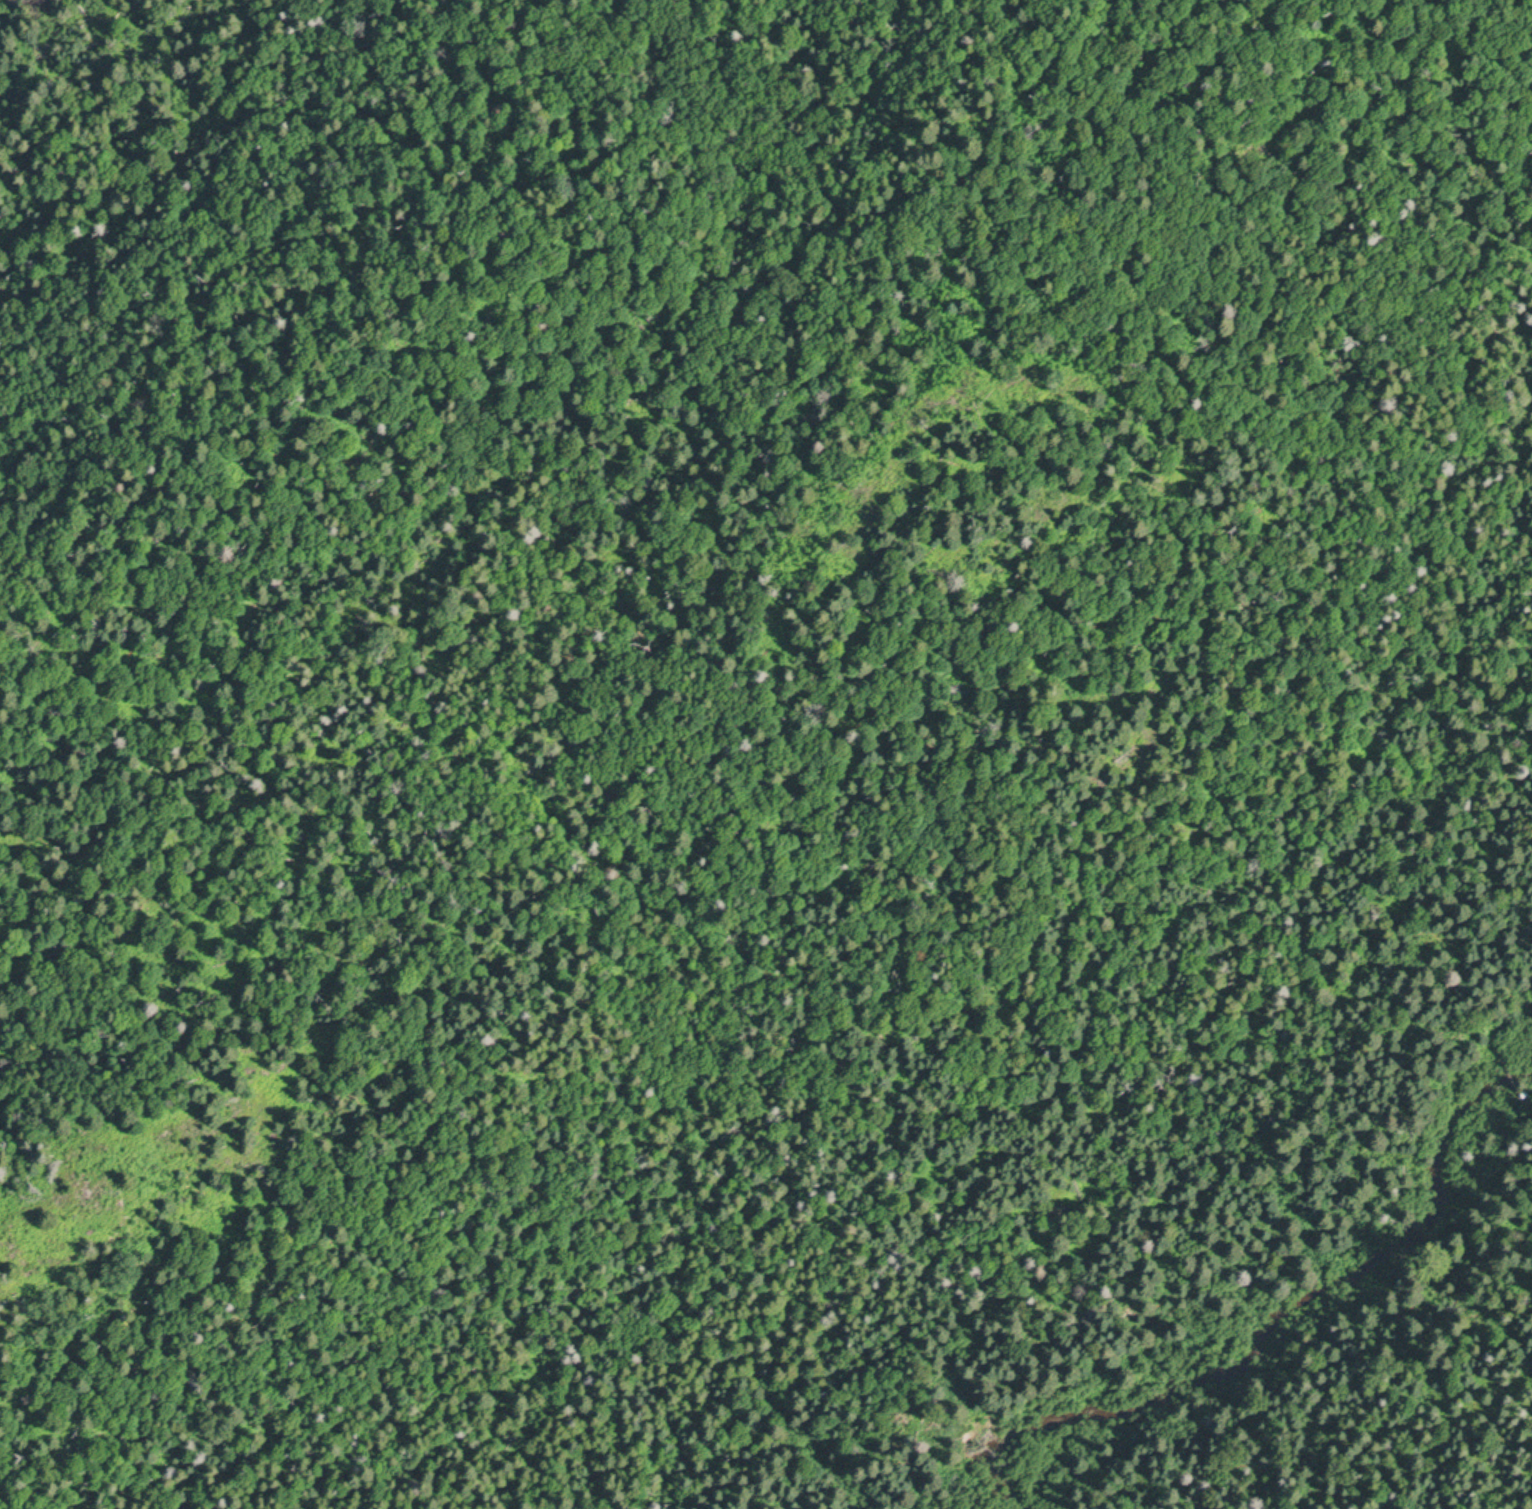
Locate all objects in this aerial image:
road: (1166, 536)
road: (1197, 944)
road: (1516, 1075)
road: (1523, 1094)
road: (475, 1296)
road: (1342, 1365)

